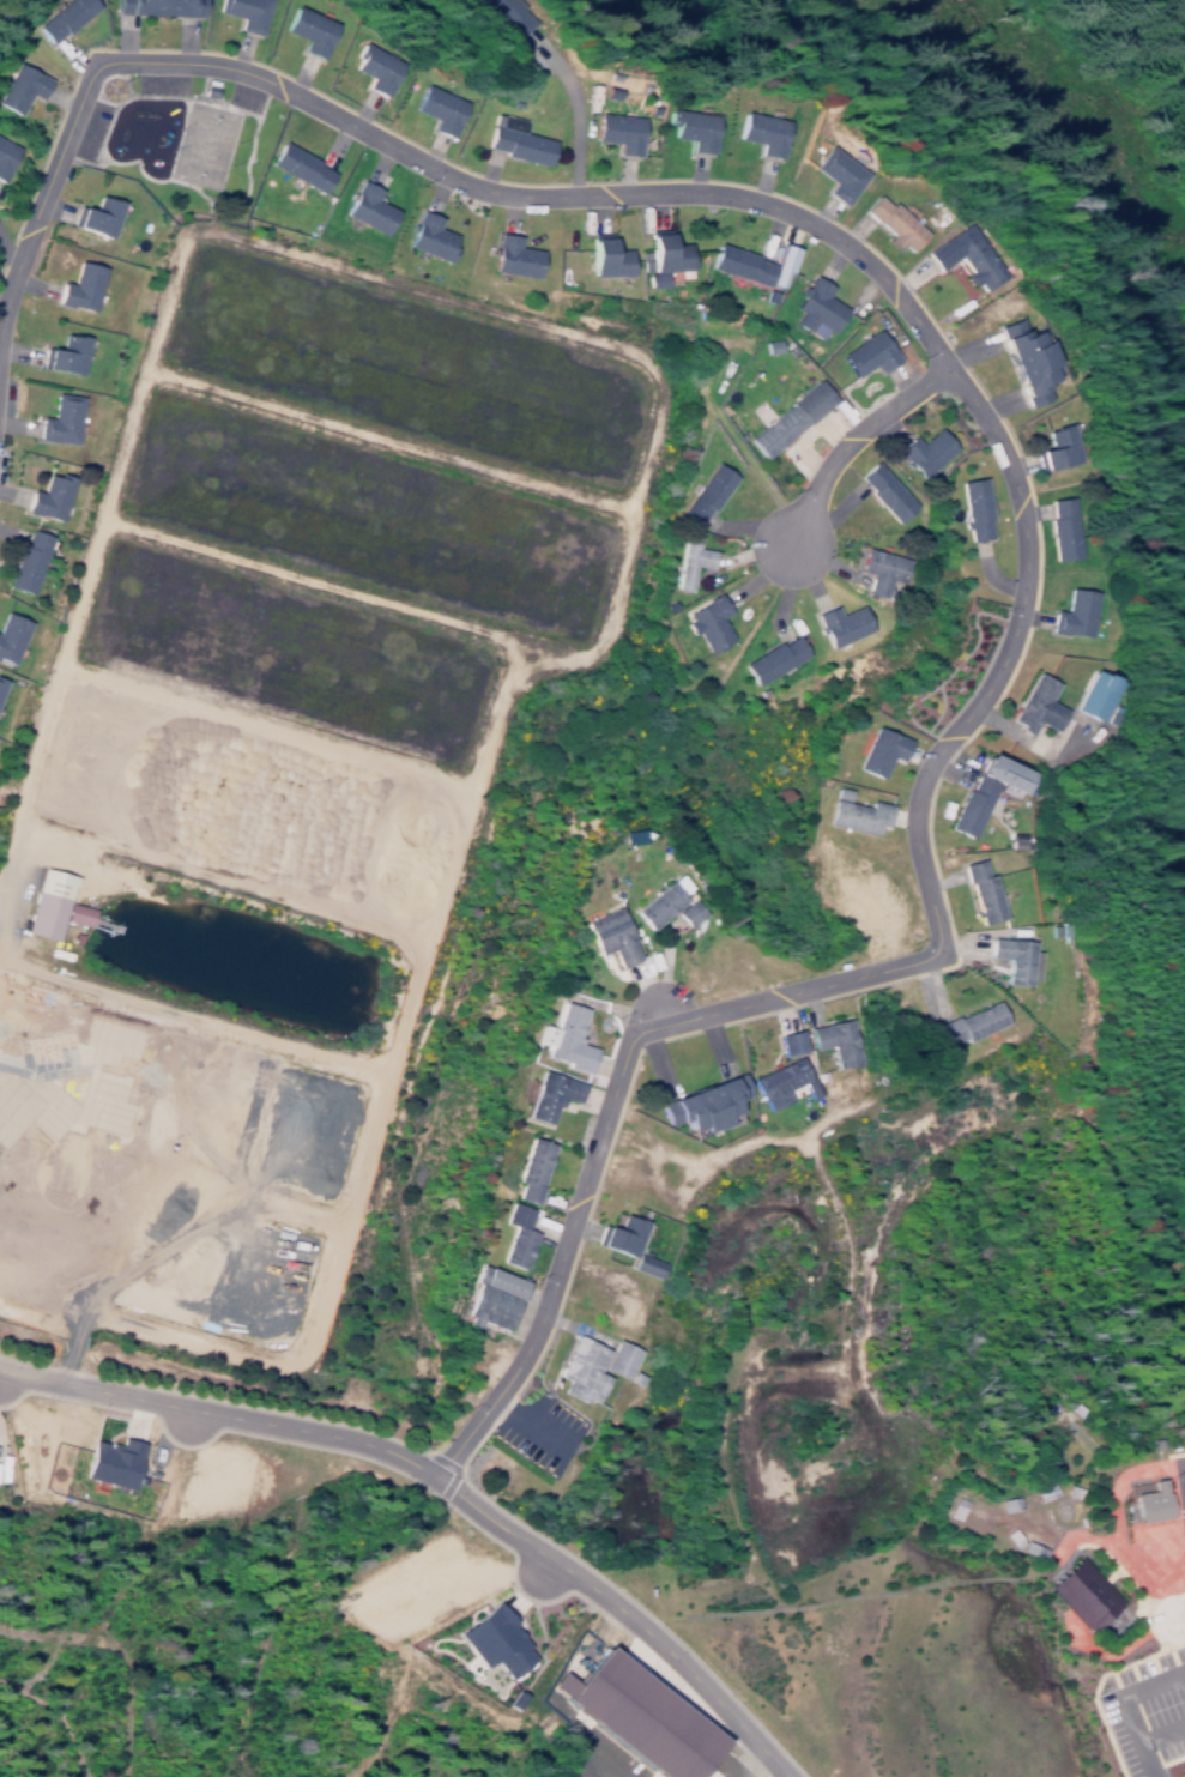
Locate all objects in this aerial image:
building: (169, 4)
building: (250, 12)
building: (69, 14)
building: (508, 14)
building: (313, 26)
building: (374, 65)
building: (25, 83)
building: (434, 105)
building: (690, 126)
building: (612, 128)
building: (762, 129)
building: (512, 141)
building: (6, 153)
building: (294, 164)
building: (838, 171)
building: (362, 205)
building: (98, 212)
building: (891, 218)
building: (423, 234)
building: (663, 250)
building: (508, 253)
building: (968, 254)
building: (603, 255)
building: (733, 261)
building: (80, 283)
building: (809, 303)
building: (66, 350)
building: (861, 351)
building: (1029, 355)
building: (59, 415)
building: (784, 415)
road: (829, 434)
building: (1058, 445)
building: (919, 448)
road: (1004, 465)
building: (702, 488)
building: (878, 488)
building: (47, 495)
building: (971, 504)
building: (1060, 525)
building: (26, 557)
building: (684, 557)
building: (873, 566)
building: (1072, 609)
building: (703, 618)
building: (836, 619)
building: (10, 631)
building: (768, 654)
building: (1, 679)
building: (1089, 696)
building: (1034, 701)
building: (879, 747)
building: (971, 800)
building: (857, 811)
building: (979, 886)
building: (658, 900)
building: (688, 908)
building: (73, 913)
building: (41, 914)
building: (611, 931)
building: (1009, 953)
building: (971, 1017)
building: (566, 1033)
building: (834, 1035)
building: (786, 1041)
building: (776, 1078)
building: (550, 1089)
building: (706, 1099)
building: (531, 1163)
road: (1114, 1207)
building: (516, 1231)
building: (622, 1231)
building: (641, 1264)
building: (492, 1293)
building: (618, 1361)
building: (581, 1364)
building: (117, 1465)
road: (440, 1481)
building: (1148, 1501)
building: (1004, 1503)
building: (1081, 1592)
building: (491, 1639)
building: (631, 1716)

